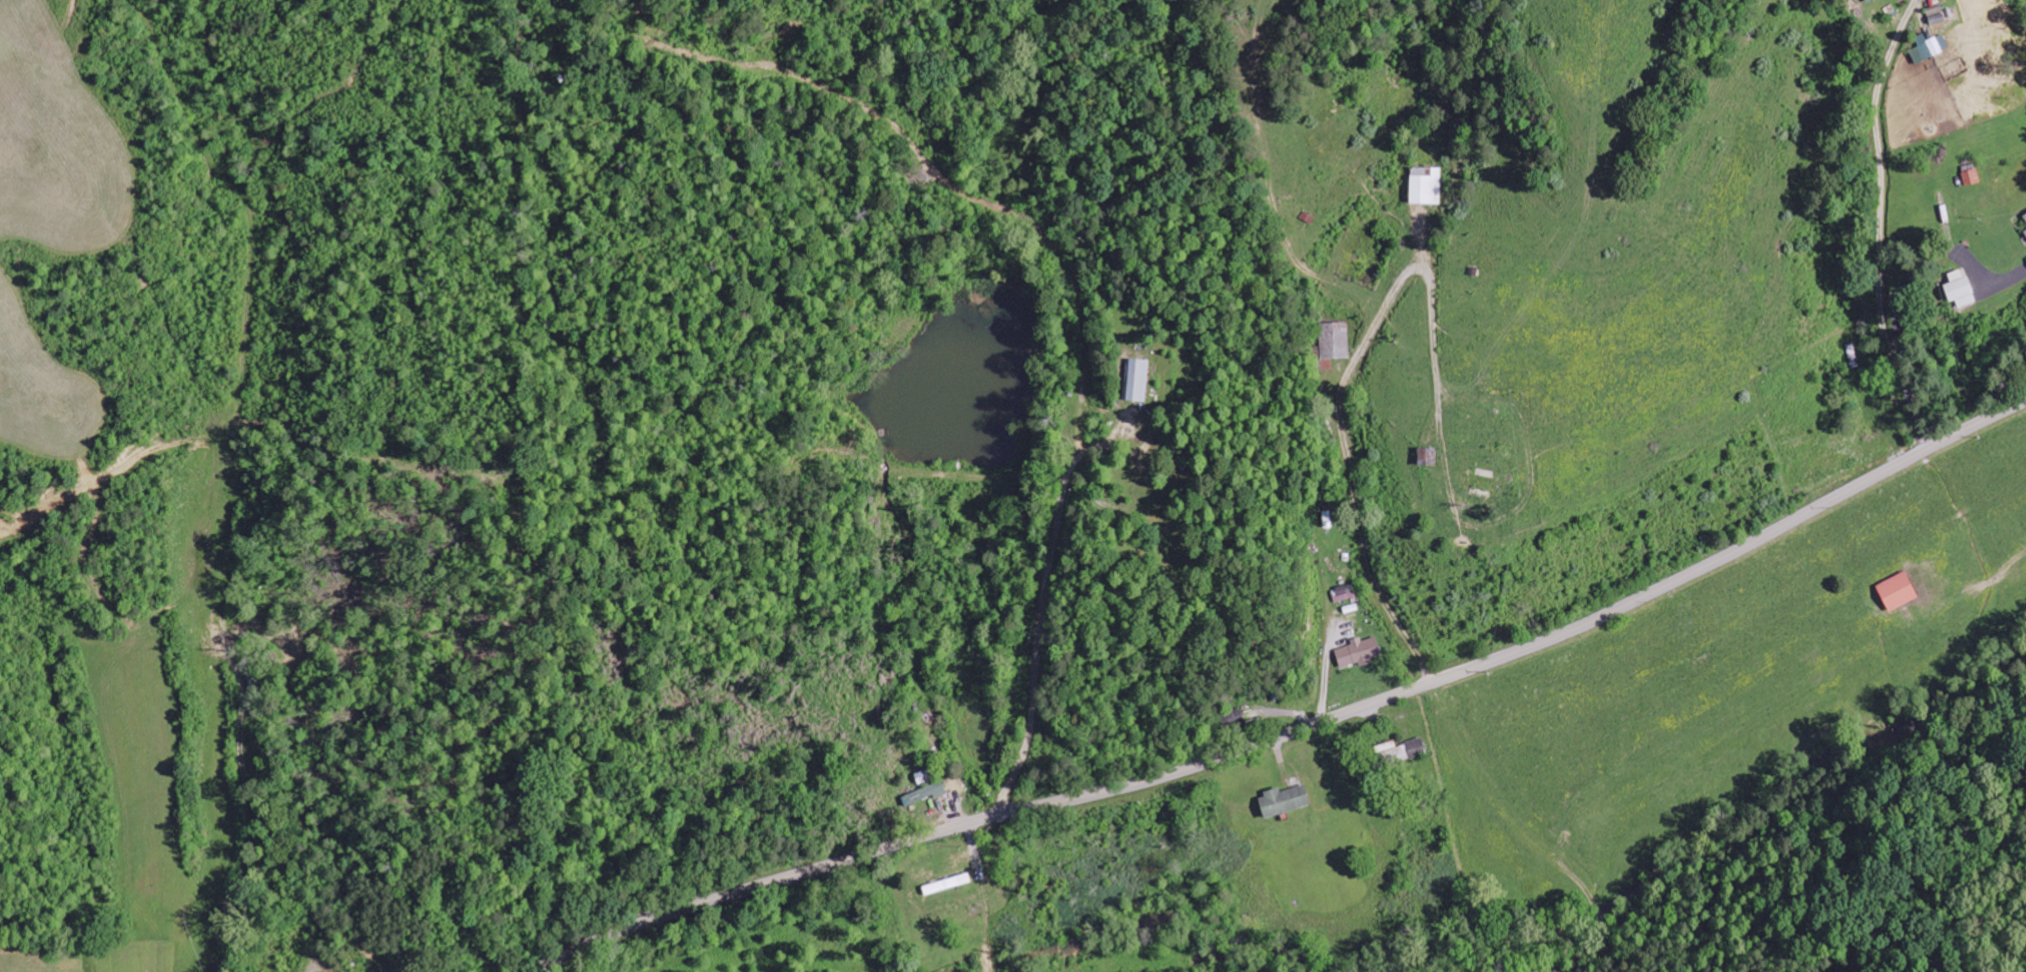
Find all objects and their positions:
building: (1929, 48)
building: (1970, 178)
building: (1425, 187)
building: (2025, 216)
road: (1879, 227)
building: (2025, 232)
building: (1960, 289)
road: (1901, 293)
building: (1334, 341)
building: (1135, 380)
road: (1348, 383)
building: (1426, 456)
building: (1897, 591)
building: (1343, 593)
road: (3, 614)
building: (1358, 652)
road: (1297, 732)
building: (925, 794)
building: (1283, 801)
road: (191, 884)
road: (18, 936)

